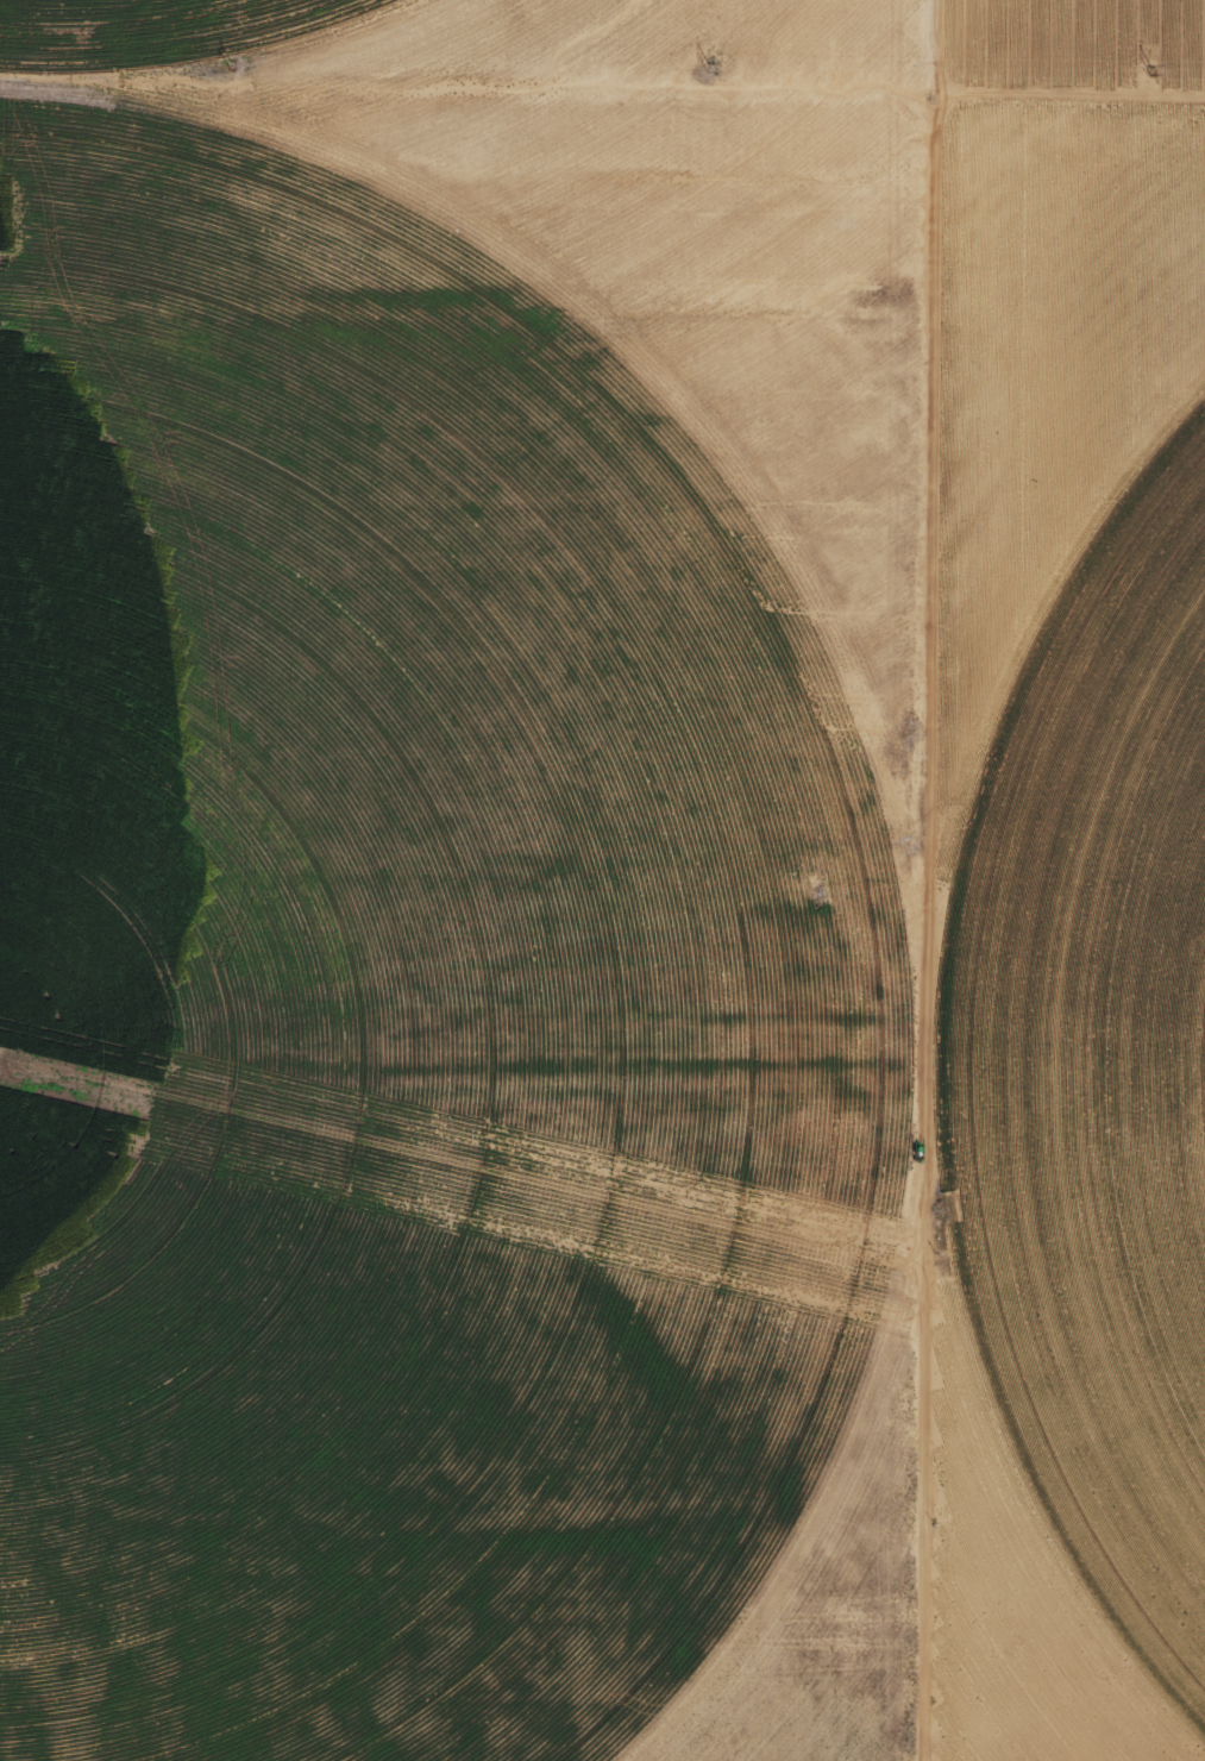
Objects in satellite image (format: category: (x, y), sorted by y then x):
power tower: (704, 64)
power tower: (1143, 67)
power tower: (224, 68)
road: (1002, 87)

